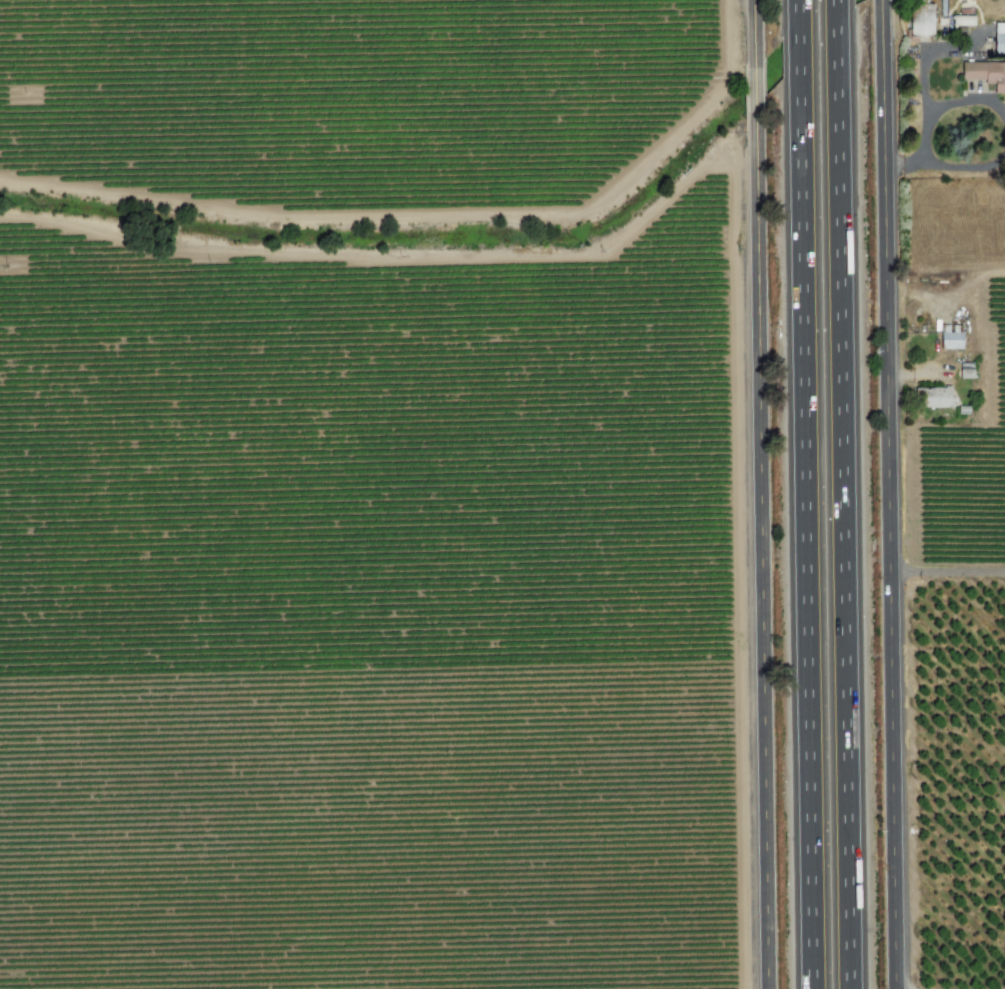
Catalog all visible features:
building: (920, 20)
building: (962, 20)
road: (838, 21)
road: (755, 28)
road: (799, 37)
building: (999, 37)
road: (922, 54)
building: (985, 73)
road: (756, 93)
road: (948, 104)
road: (902, 159)
road: (963, 166)
building: (950, 340)
building: (933, 397)
road: (890, 494)
road: (845, 515)
road: (806, 531)
road: (763, 559)
road: (948, 571)

